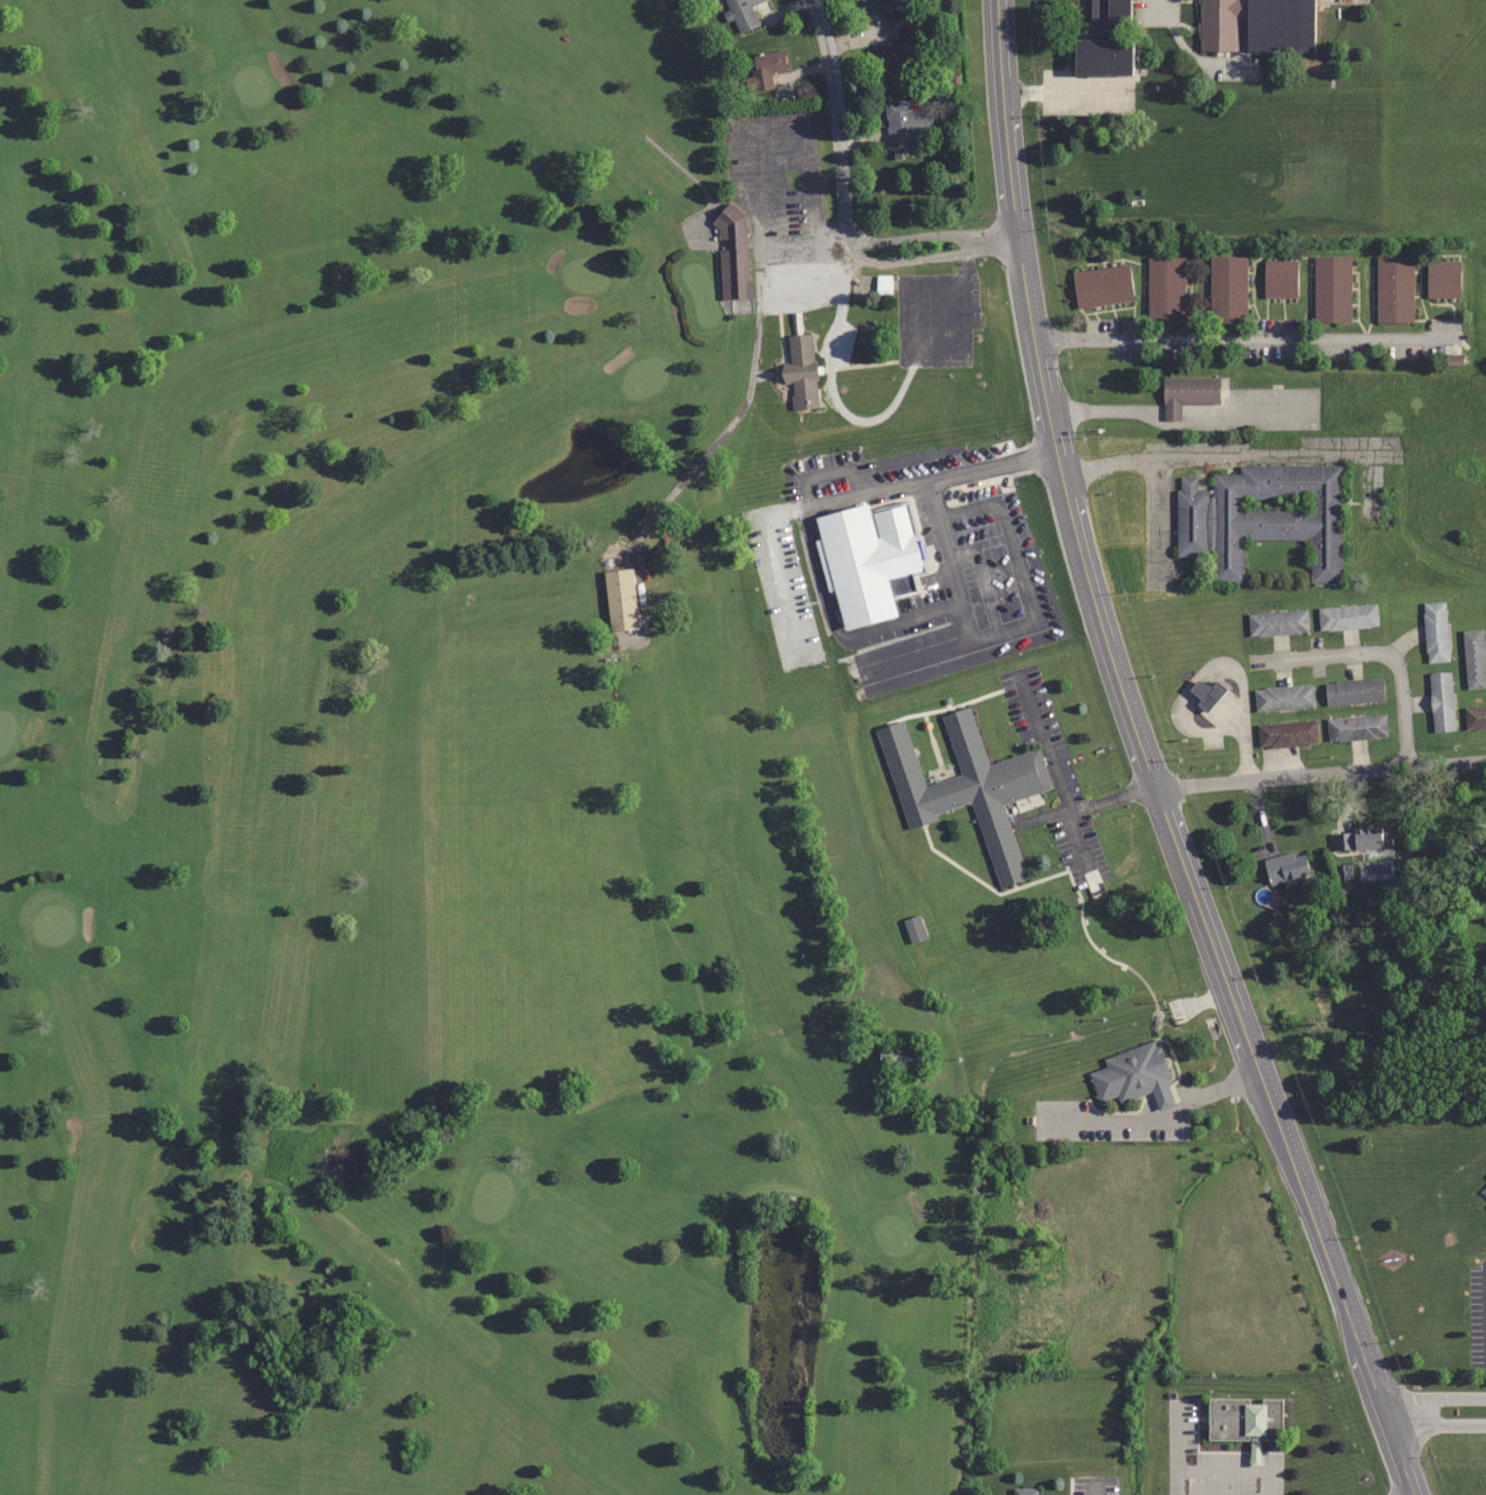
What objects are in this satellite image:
building: (878, 5)
building: (742, 13)
building: (1219, 25)
building: (1280, 25)
building: (1106, 41)
building: (894, 67)
building: (764, 69)
road: (838, 114)
building: (907, 122)
road: (740, 134)
road: (779, 174)
road: (934, 235)
building: (732, 252)
road: (926, 257)
building: (1280, 278)
building: (1443, 279)
building: (883, 284)
building: (1102, 286)
building: (1227, 288)
building: (1394, 288)
building: (1166, 289)
building: (1331, 289)
road: (779, 290)
road: (1240, 338)
building: (1453, 360)
building: (800, 371)
building: (1187, 394)
road: (1134, 412)
road: (862, 422)
road: (1146, 458)
building: (1263, 516)
building: (867, 558)
road: (817, 572)
road: (1021, 585)
building: (621, 600)
building: (1347, 616)
building: (1277, 623)
building: (1435, 631)
road: (1378, 651)
building: (1474, 658)
building: (1354, 691)
building: (1207, 694)
building: (1284, 697)
building: (1441, 701)
building: (1475, 717)
building: (1356, 727)
building: (1287, 734)
road: (1244, 742)
road: (1147, 762)
road: (1321, 773)
building: (967, 787)
road: (1064, 791)
road: (1072, 830)
building: (1358, 838)
building: (1285, 868)
building: (914, 928)
building: (900, 1059)
building: (1134, 1076)
road: (1163, 1119)
building: (1484, 1190)
building: (787, 1203)
road: (1433, 1398)
building: (1245, 1421)
road: (1438, 1426)
building: (1025, 1490)

